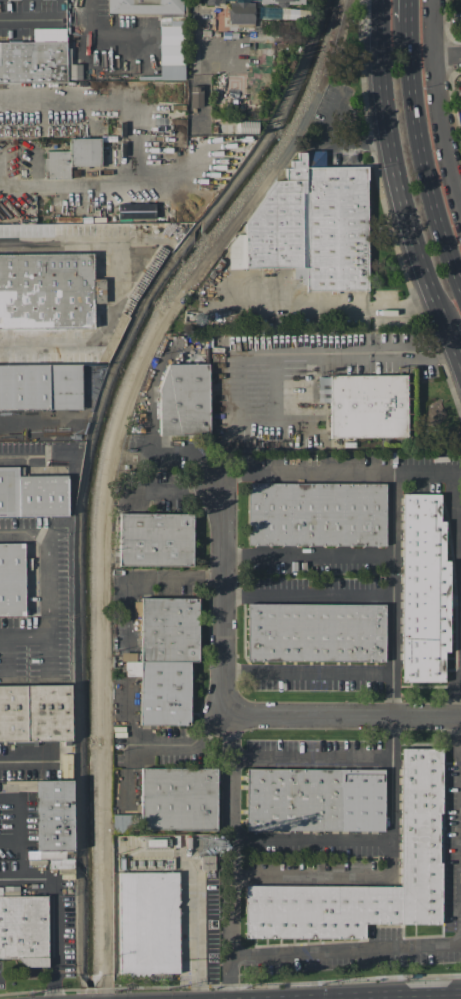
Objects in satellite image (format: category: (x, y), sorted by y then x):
building: (282, 1)
building: (211, 2)
building: (460, 4)
building: (146, 6)
road: (194, 8)
road: (408, 10)
building: (219, 18)
road: (28, 19)
building: (245, 20)
building: (460, 24)
road: (91, 39)
building: (170, 52)
building: (262, 57)
building: (35, 58)
road: (447, 58)
building: (195, 96)
building: (232, 102)
road: (437, 104)
building: (247, 127)
road: (130, 144)
road: (422, 152)
building: (72, 157)
road: (397, 174)
building: (135, 211)
building: (313, 224)
road: (114, 286)
building: (48, 290)
road: (332, 306)
road: (457, 349)
road: (300, 354)
road: (413, 354)
building: (40, 387)
road: (274, 393)
building: (184, 400)
building: (368, 406)
road: (153, 423)
road: (235, 430)
road: (338, 470)
road: (177, 490)
building: (32, 494)
building: (317, 514)
road: (454, 516)
building: (155, 539)
road: (306, 556)
road: (141, 578)
building: (11, 579)
road: (49, 587)
building: (423, 590)
road: (392, 592)
road: (306, 593)
road: (220, 599)
building: (315, 631)
building: (164, 658)
road: (306, 670)
road: (455, 695)
building: (34, 712)
road: (340, 716)
road: (455, 737)
road: (151, 745)
road: (310, 757)
road: (128, 775)
building: (179, 799)
building: (314, 799)
building: (53, 815)
road: (16, 818)
building: (121, 823)
building: (419, 837)
road: (310, 841)
road: (230, 856)
road: (391, 877)
road: (57, 912)
building: (148, 922)
building: (24, 929)
road: (346, 950)
road: (388, 996)

